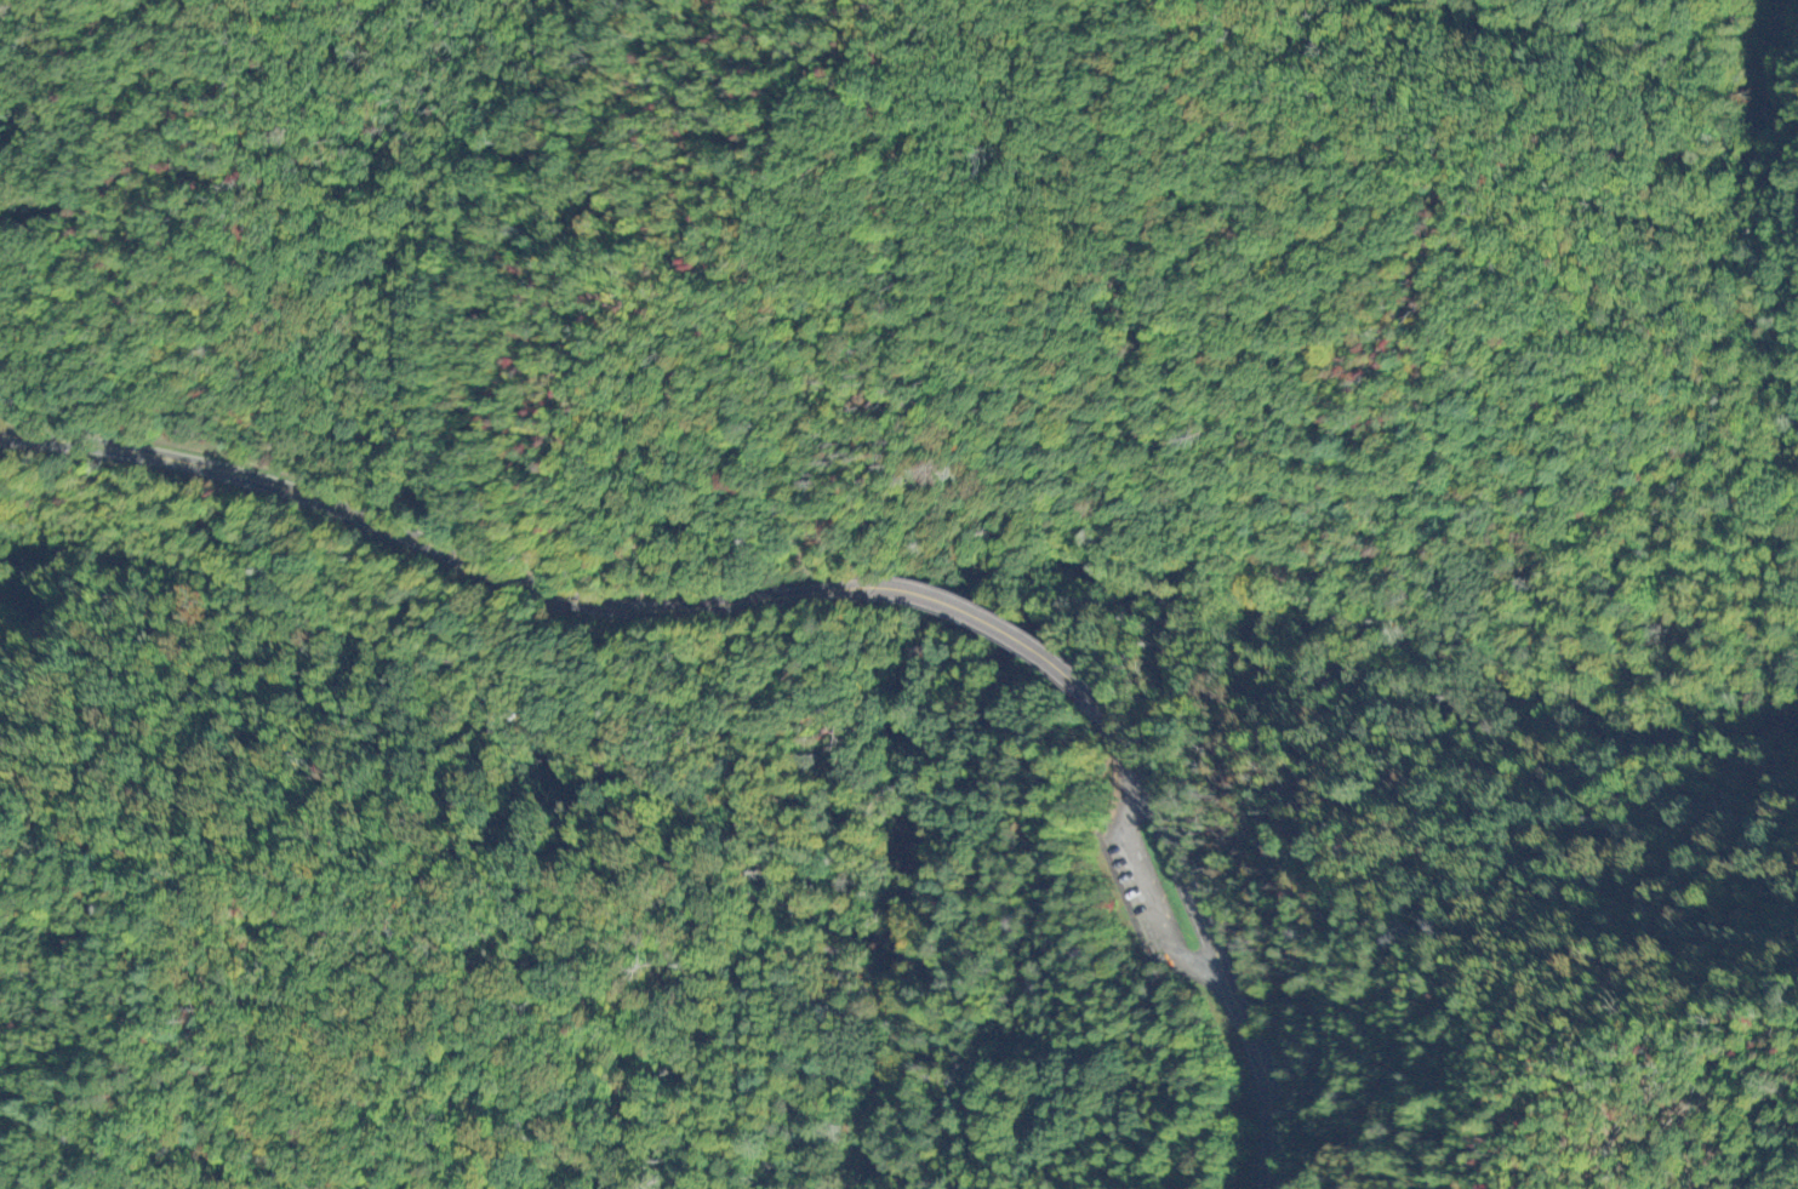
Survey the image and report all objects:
road: (435, 549)
road: (1008, 623)
road: (1115, 734)
parking lot: (1138, 890)
parking lot: (1132, 892)
road: (1136, 902)
road: (1212, 966)

